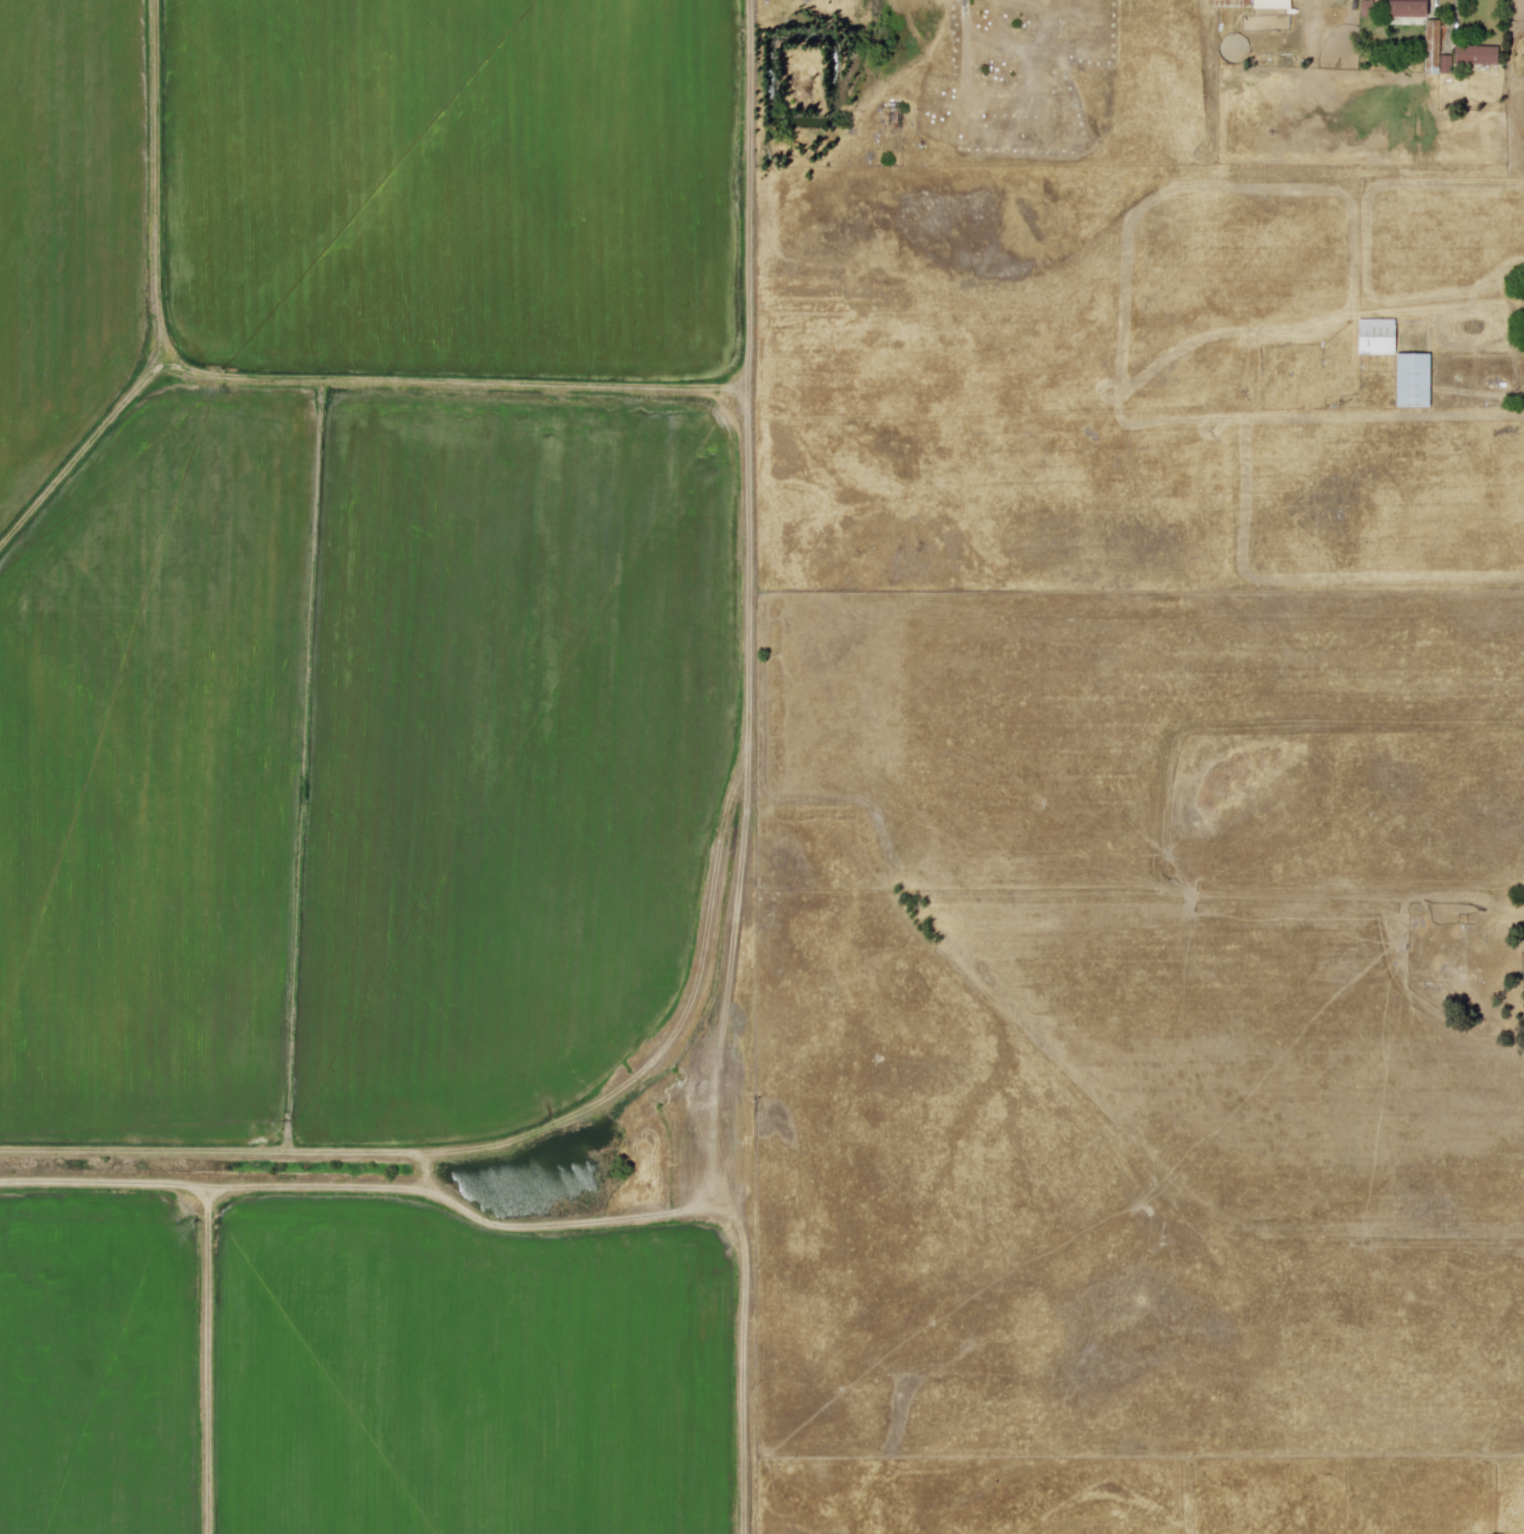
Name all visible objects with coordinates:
building: (1250, 3)
building: (1406, 8)
building: (1430, 38)
building: (1474, 54)
building: (1374, 336)
building: (1411, 380)

